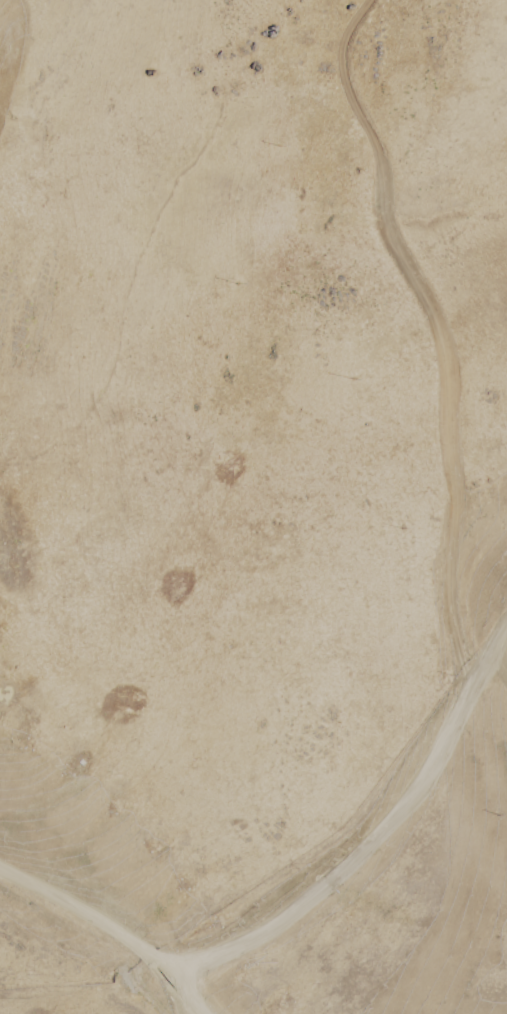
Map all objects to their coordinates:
road: (100, 881)

